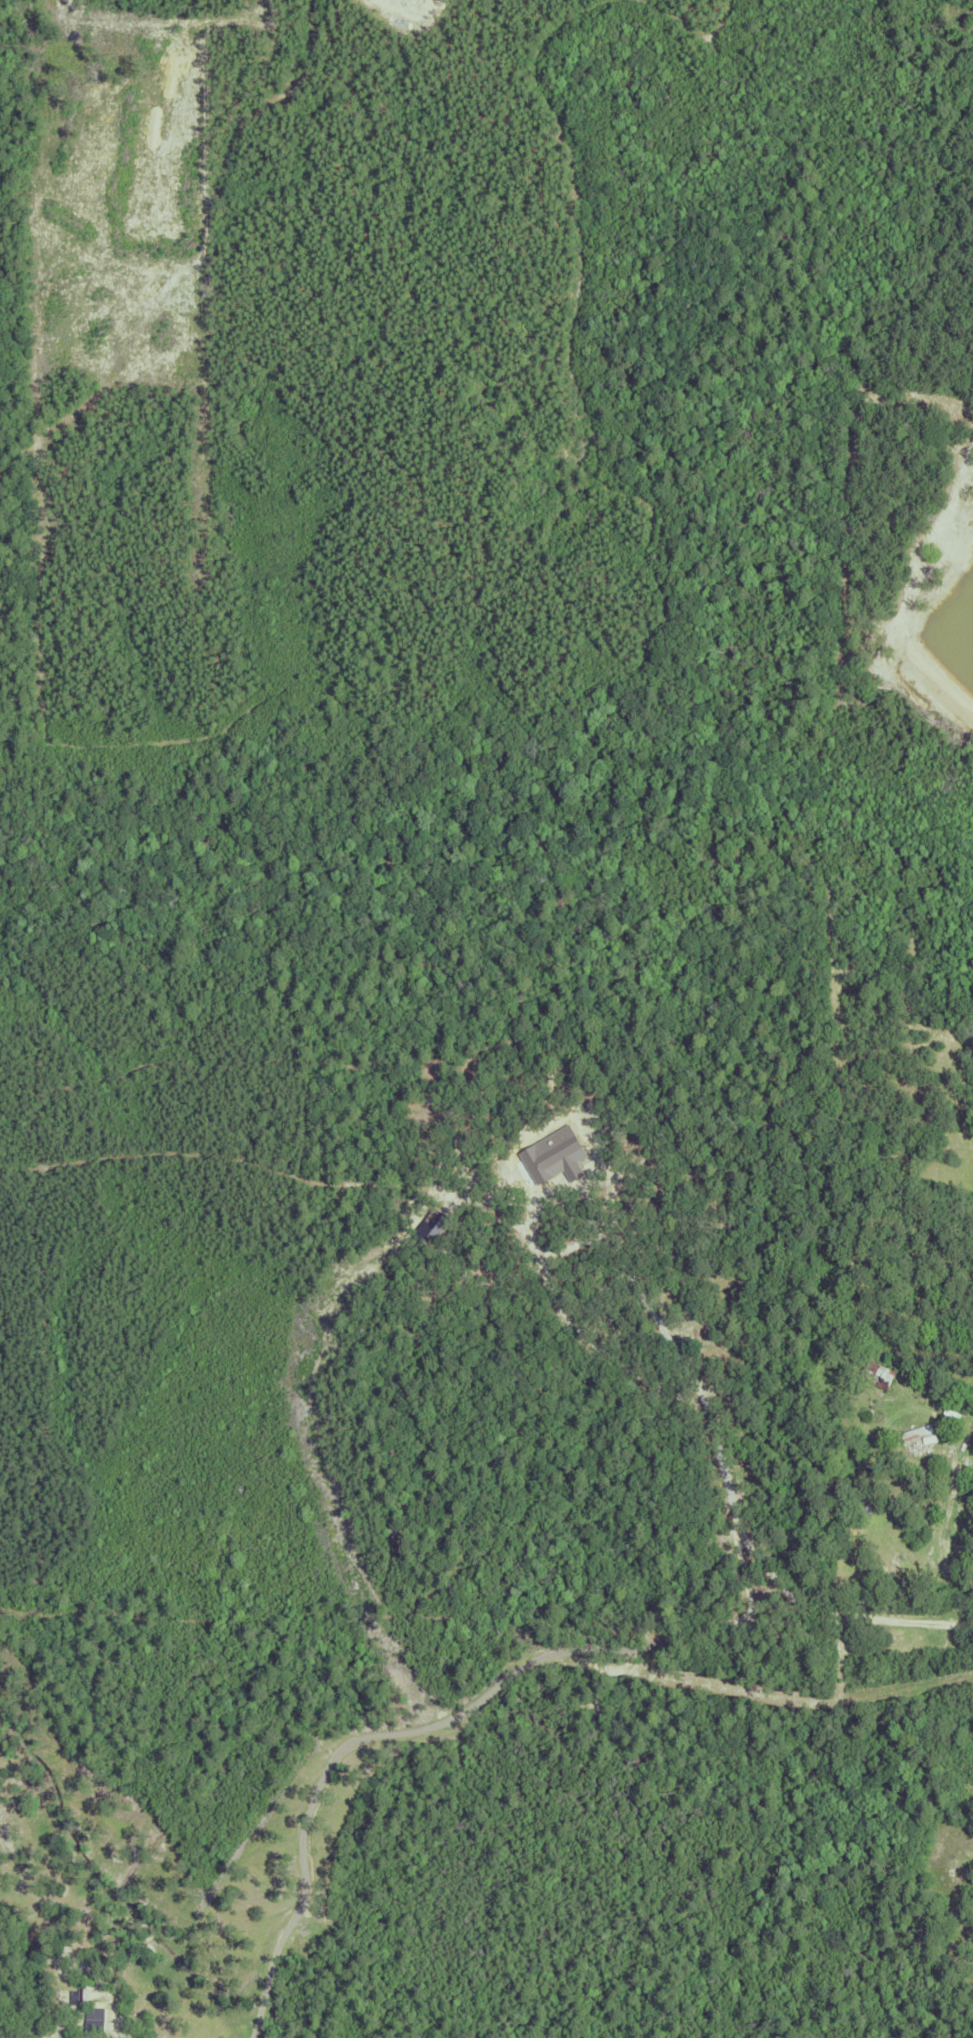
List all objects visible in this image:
building: (872, 1372)
building: (917, 1438)
road: (951, 1520)
road: (500, 1682)
building: (92, 2024)
road: (136, 2036)

